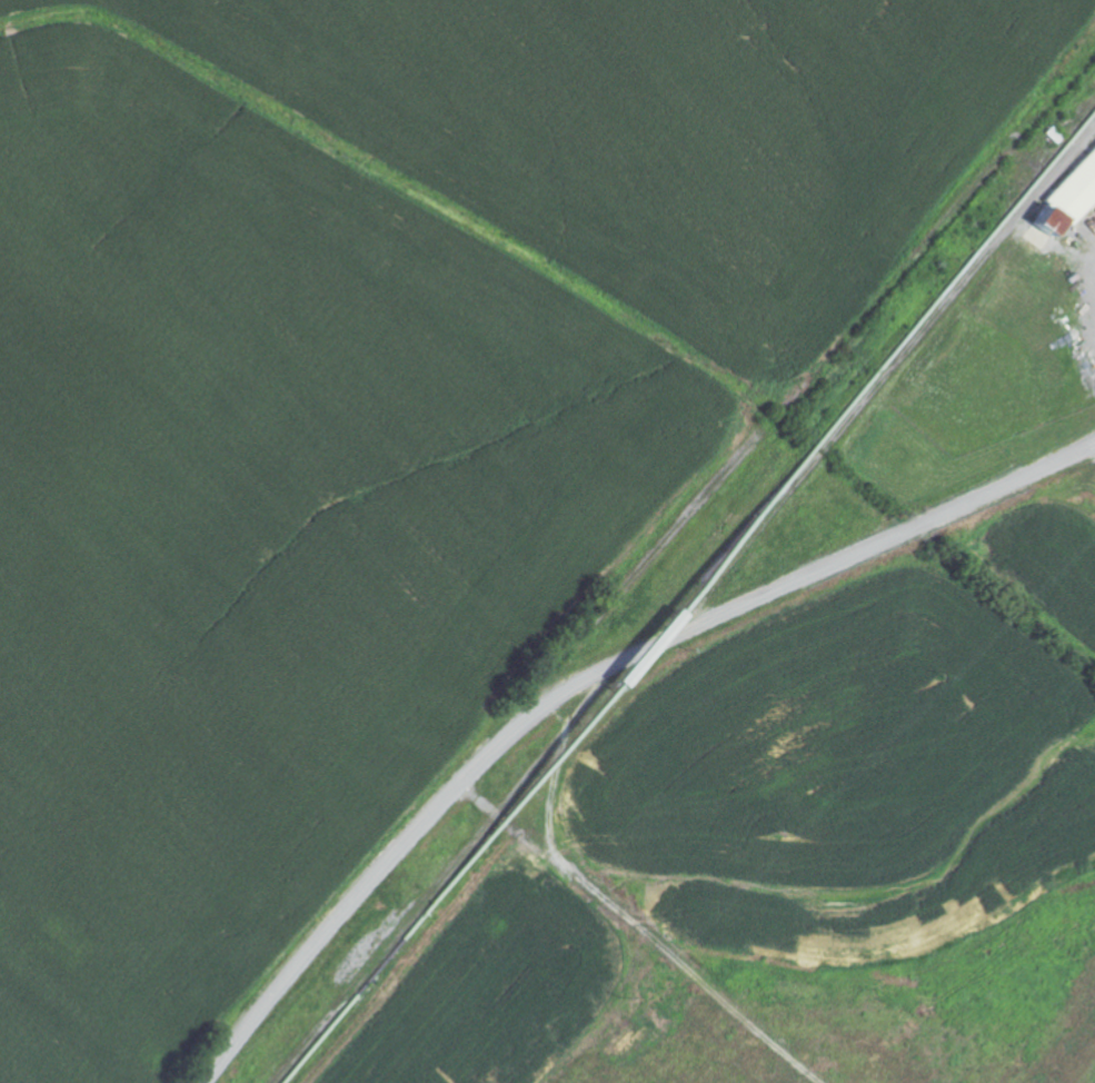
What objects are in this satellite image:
building: (1067, 196)
road: (583, 630)

